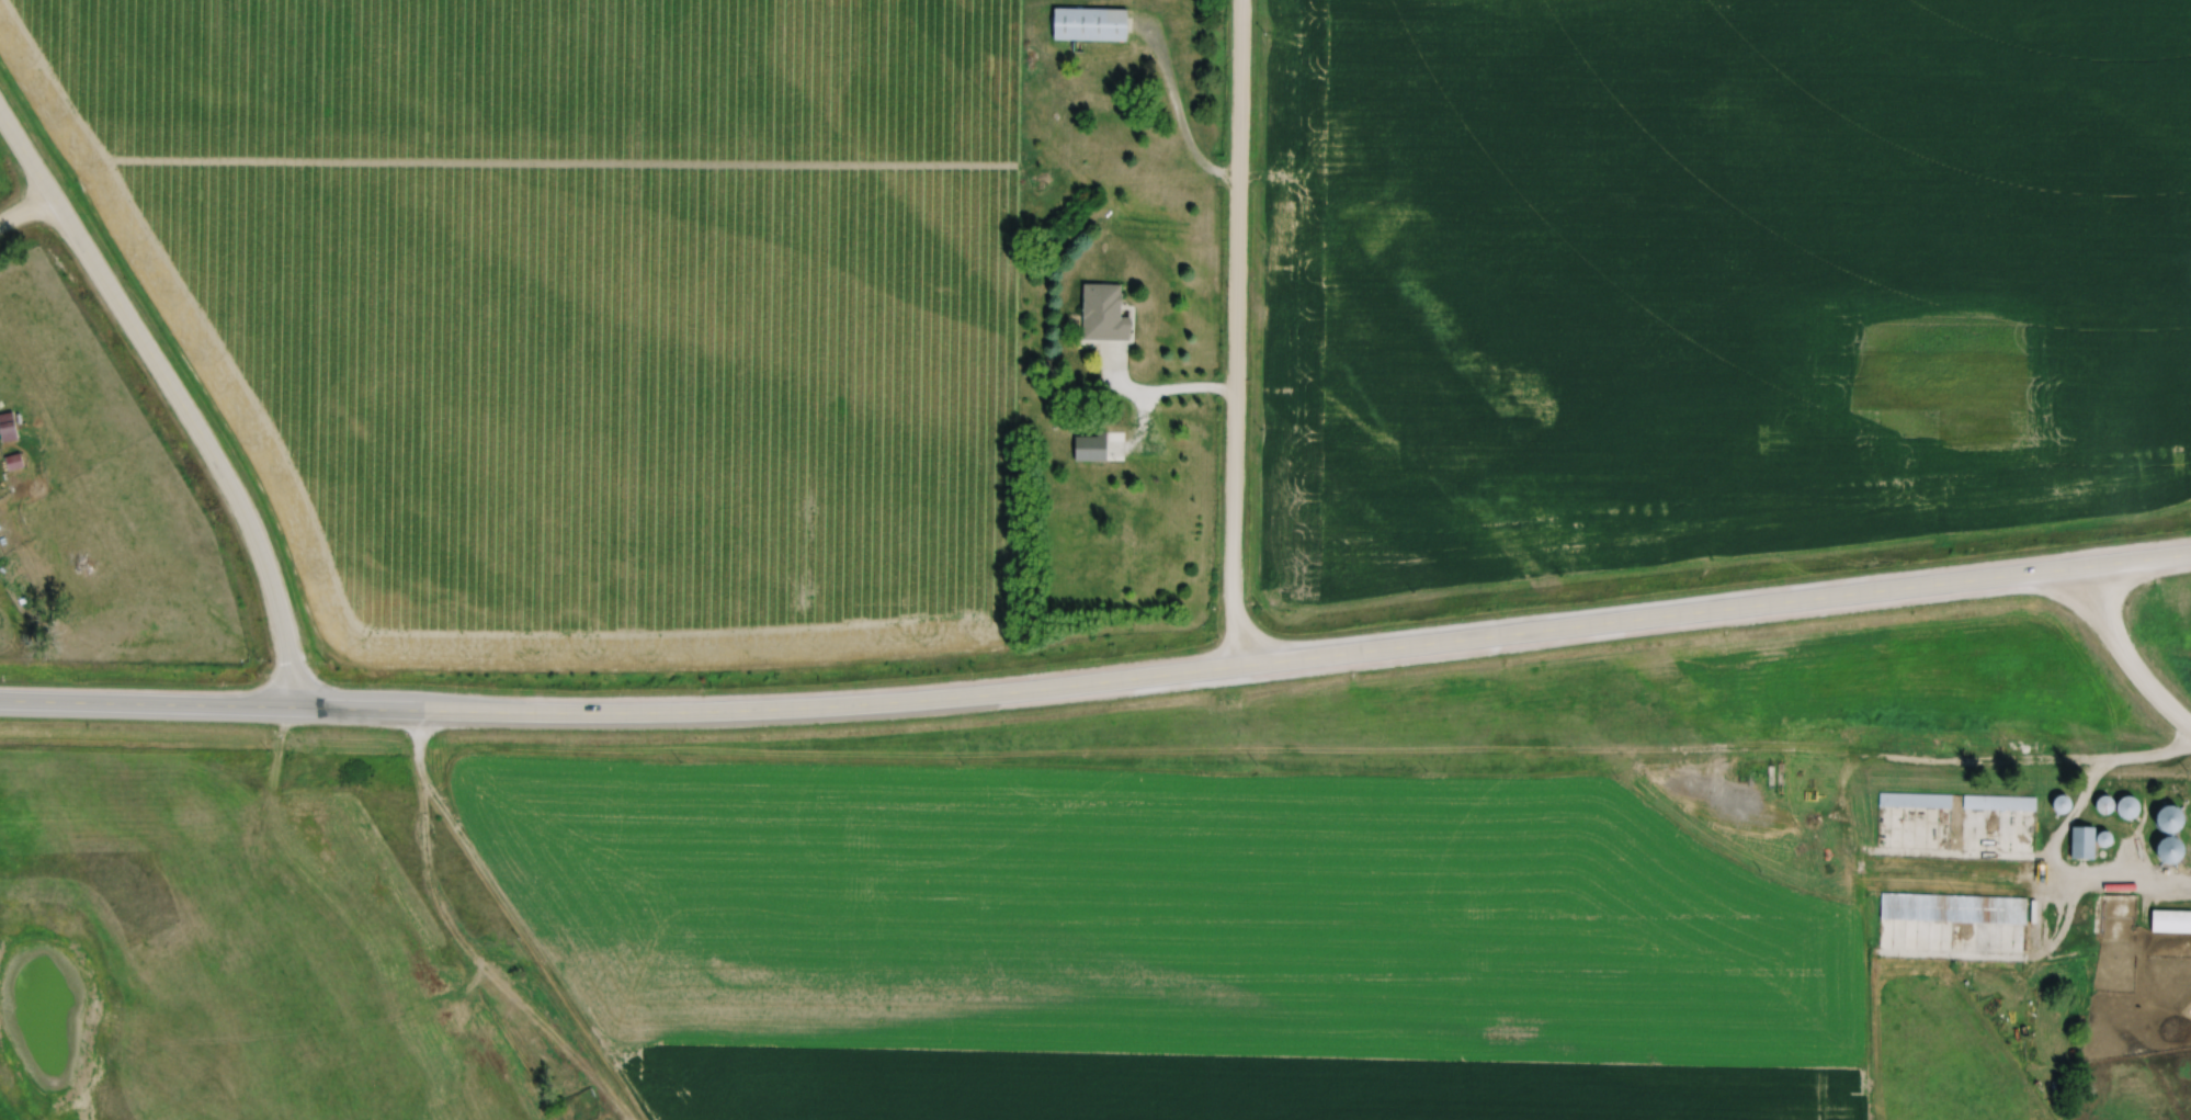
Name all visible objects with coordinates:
building: (1093, 20)
road: (23, 206)
building: (1105, 309)
road: (1239, 330)
road: (172, 397)
building: (1092, 444)
road: (2126, 650)
road: (1098, 676)
building: (1915, 797)
building: (2061, 801)
building: (2120, 802)
building: (2171, 815)
building: (2105, 836)
building: (2082, 839)
building: (2169, 846)
building: (1953, 905)
building: (2170, 917)

